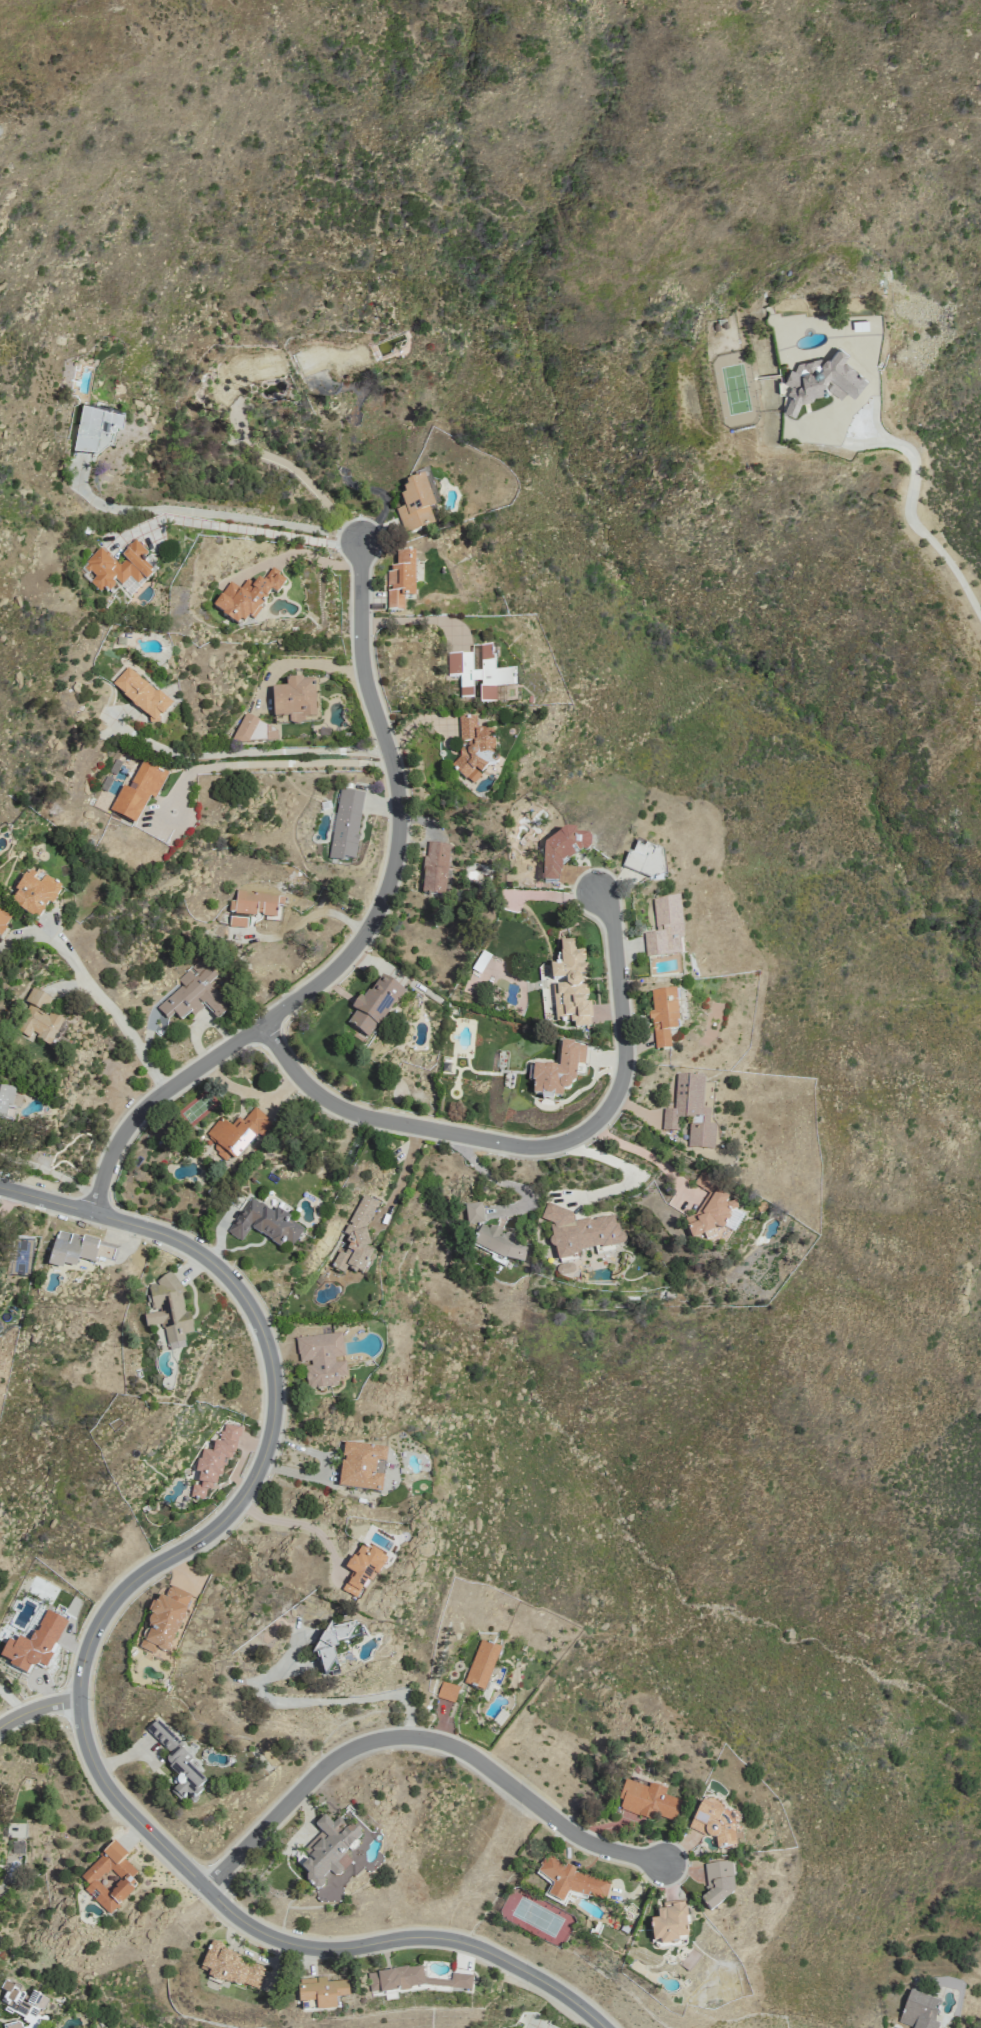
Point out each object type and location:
building: (332, 359)
building: (243, 374)
building: (820, 380)
building: (94, 426)
road: (293, 468)
road: (916, 499)
building: (417, 503)
road: (208, 512)
road: (250, 531)
building: (117, 568)
building: (401, 580)
building: (247, 597)
road: (414, 621)
building: (478, 672)
building: (141, 695)
building: (296, 699)
building: (255, 730)
building: (473, 748)
road: (246, 751)
road: (270, 762)
building: (138, 791)
building: (346, 824)
building: (560, 853)
building: (645, 861)
building: (435, 868)
building: (34, 893)
building: (253, 906)
building: (3, 920)
building: (665, 929)
road: (366, 932)
building: (571, 986)
building: (194, 993)
building: (374, 1005)
road: (116, 1012)
building: (663, 1016)
building: (41, 1017)
building: (559, 1072)
building: (5, 1099)
building: (690, 1111)
building: (237, 1133)
road: (533, 1146)
road: (642, 1152)
road: (404, 1170)
road: (50, 1172)
road: (630, 1175)
road: (8, 1202)
building: (709, 1206)
building: (473, 1211)
building: (265, 1224)
building: (579, 1231)
building: (357, 1237)
building: (502, 1242)
building: (71, 1250)
building: (169, 1311)
building: (321, 1359)
building: (214, 1461)
building: (361, 1467)
road: (302, 1524)
building: (362, 1568)
building: (164, 1620)
building: (325, 1646)
road: (86, 1658)
building: (482, 1665)
building: (447, 1691)
road: (327, 1700)
road: (12, 1702)
road: (38, 1708)
road: (424, 1738)
building: (178, 1763)
building: (647, 1800)
building: (714, 1825)
building: (328, 1850)
building: (109, 1878)
building: (574, 1881)
building: (719, 1882)
building: (669, 1923)
building: (231, 1967)
building: (416, 1980)
building: (321, 1992)
building: (22, 2004)
building: (919, 2011)

